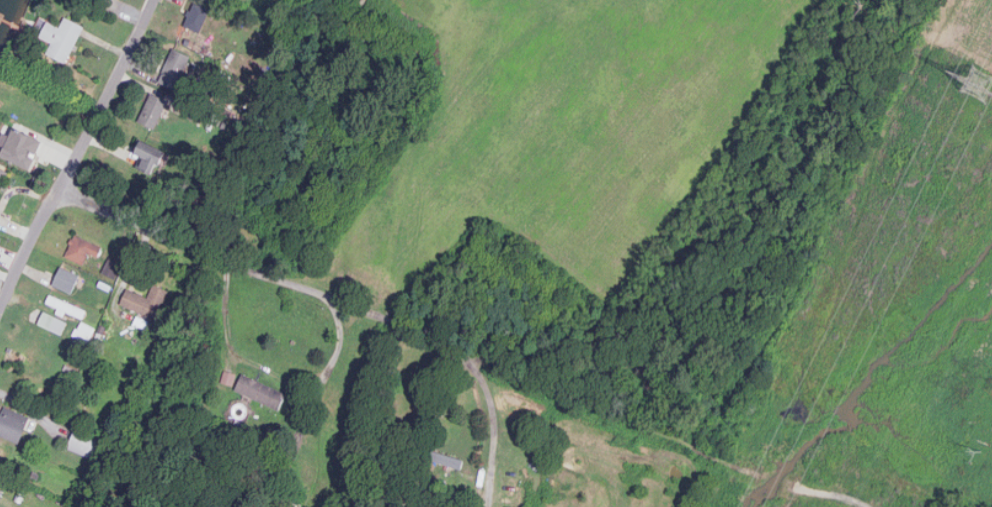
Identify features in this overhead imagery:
building: (197, 16)
building: (62, 37)
building: (174, 68)
power tower: (983, 87)
building: (153, 110)
building: (20, 147)
road: (77, 155)
building: (149, 156)
building: (1, 171)
road: (20, 189)
road: (16, 230)
building: (81, 248)
building: (112, 267)
building: (65, 278)
building: (146, 300)
building: (66, 306)
building: (52, 322)
building: (84, 331)
road: (459, 349)
road: (275, 377)
building: (261, 391)
road: (492, 407)
building: (12, 423)
building: (85, 443)
building: (2, 452)

